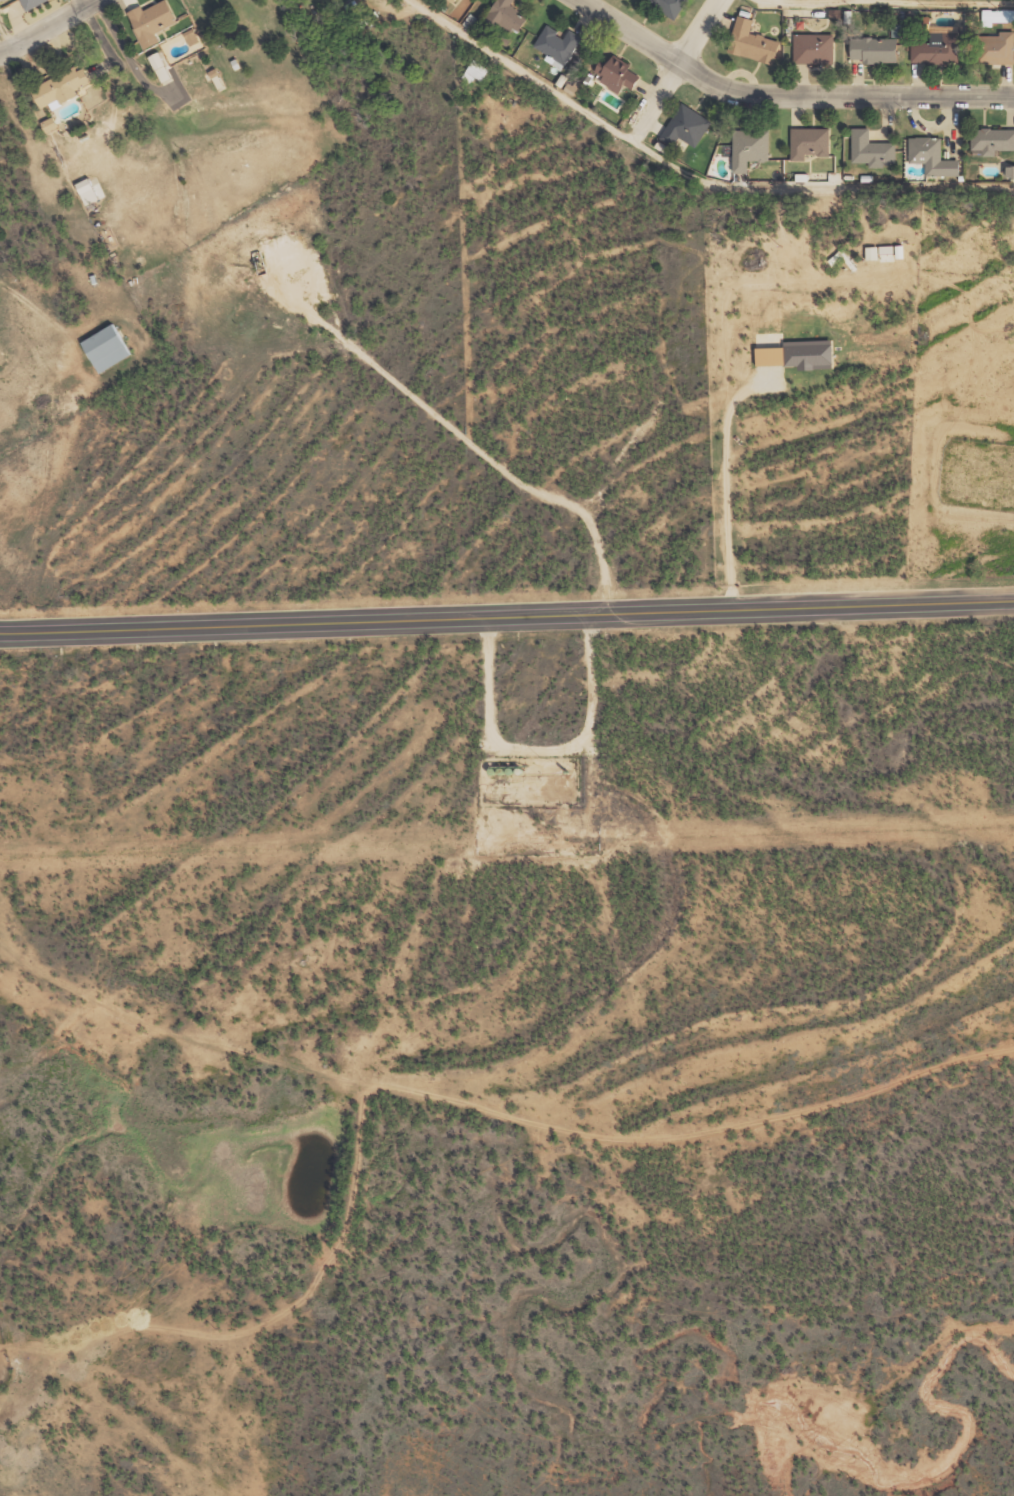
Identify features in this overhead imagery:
building: (33, 3)
building: (670, 6)
building: (455, 7)
road: (884, 8)
building: (508, 15)
building: (998, 16)
building: (154, 22)
road: (7, 30)
road: (49, 30)
road: (631, 31)
building: (754, 41)
building: (559, 46)
building: (815, 48)
building: (939, 48)
building: (997, 48)
building: (877, 49)
road: (676, 70)
building: (478, 71)
building: (619, 76)
building: (64, 88)
road: (843, 94)
building: (50, 124)
building: (688, 126)
building: (993, 140)
building: (811, 142)
building: (751, 147)
building: (873, 149)
building: (934, 156)
road: (688, 172)
building: (91, 190)
building: (901, 251)
building: (881, 253)
building: (838, 257)
building: (108, 348)
building: (799, 354)
road: (506, 614)

